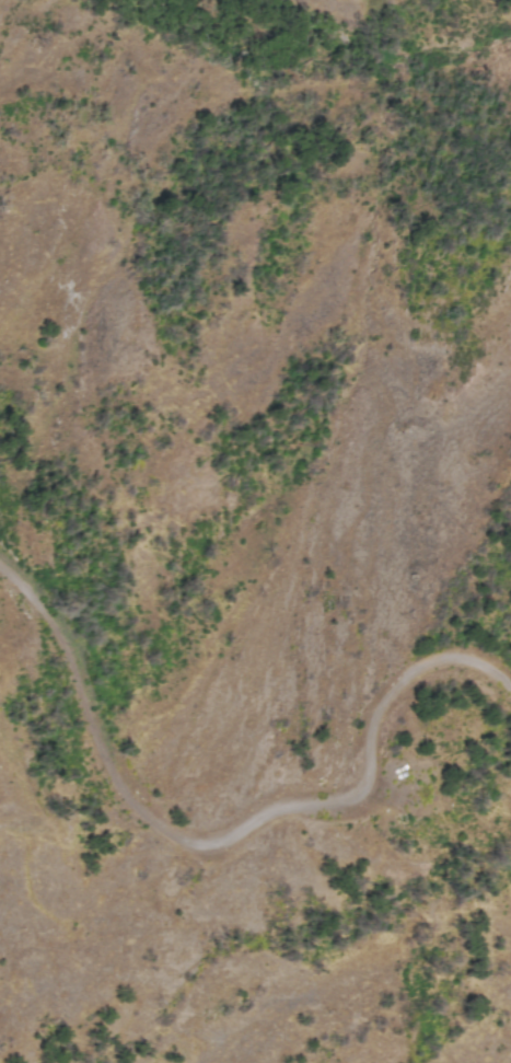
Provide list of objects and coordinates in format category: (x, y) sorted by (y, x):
road: (229, 836)

